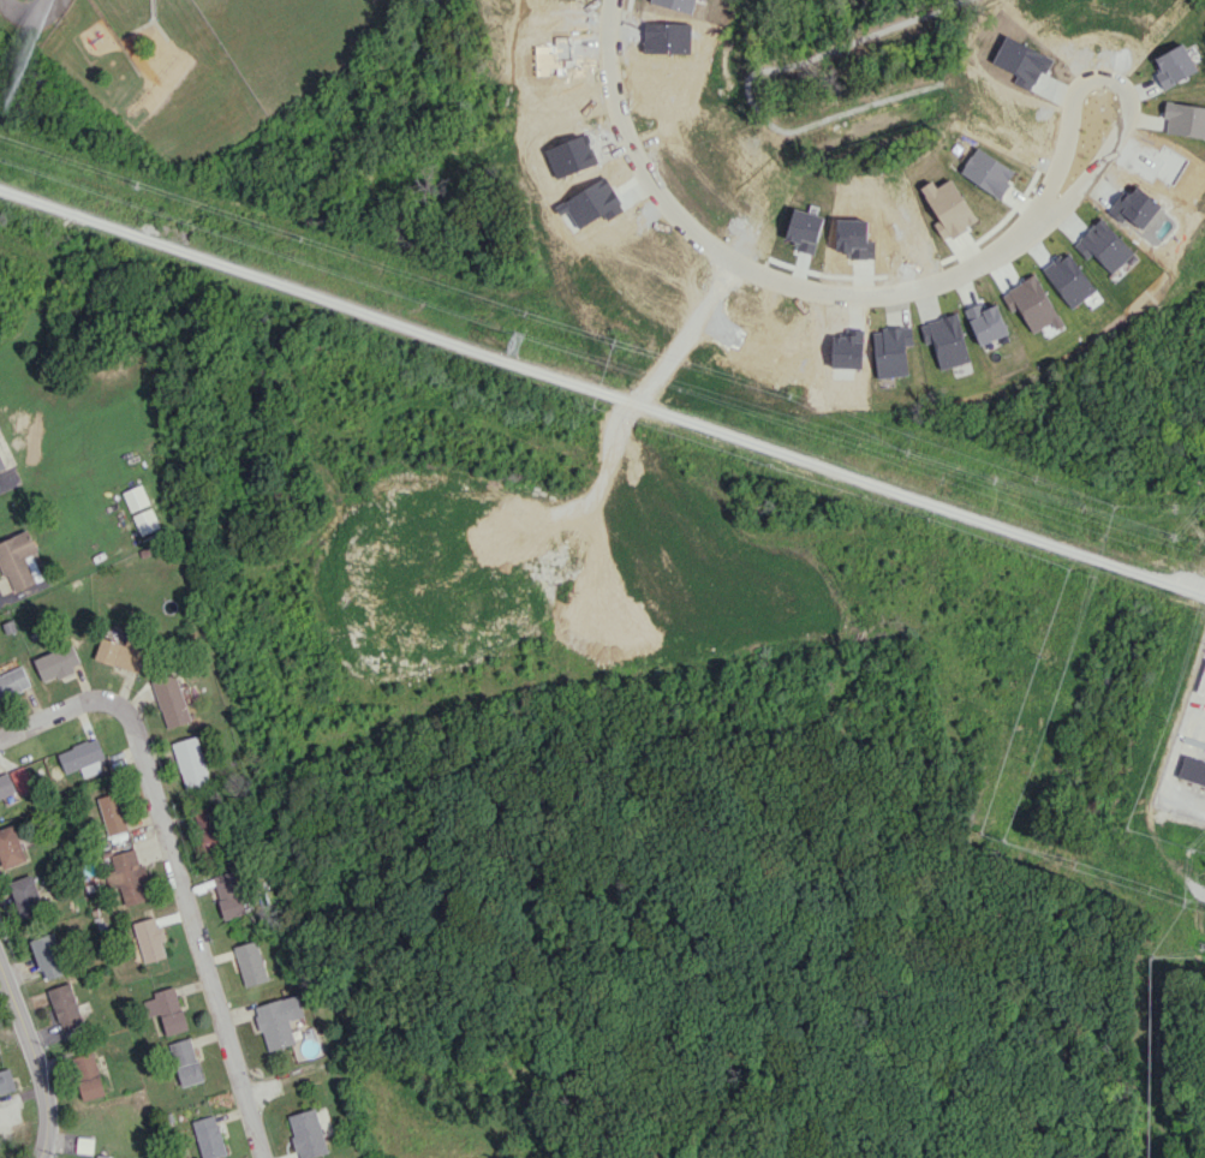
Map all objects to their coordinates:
road: (24, 13)
road: (608, 43)
road: (851, 304)
power tower: (513, 348)
road: (650, 399)
building: (0, 426)
building: (1, 464)
building: (136, 497)
road: (521, 507)
building: (145, 520)
building: (17, 560)
road: (294, 573)
building: (123, 652)
building: (56, 662)
road: (837, 662)
building: (13, 681)
building: (171, 700)
building: (82, 757)
building: (191, 763)
building: (1192, 769)
building: (20, 780)
building: (6, 786)
building: (113, 817)
building: (208, 826)
building: (10, 847)
road: (173, 866)
building: (129, 876)
building: (229, 894)
building: (26, 895)
building: (150, 939)
building: (48, 956)
building: (251, 962)
building: (65, 1005)
building: (169, 1010)
building: (279, 1020)
road: (35, 1061)
building: (185, 1061)
road: (538, 1072)
building: (87, 1075)
building: (6, 1080)
building: (308, 1133)
building: (208, 1136)
building: (84, 1146)

